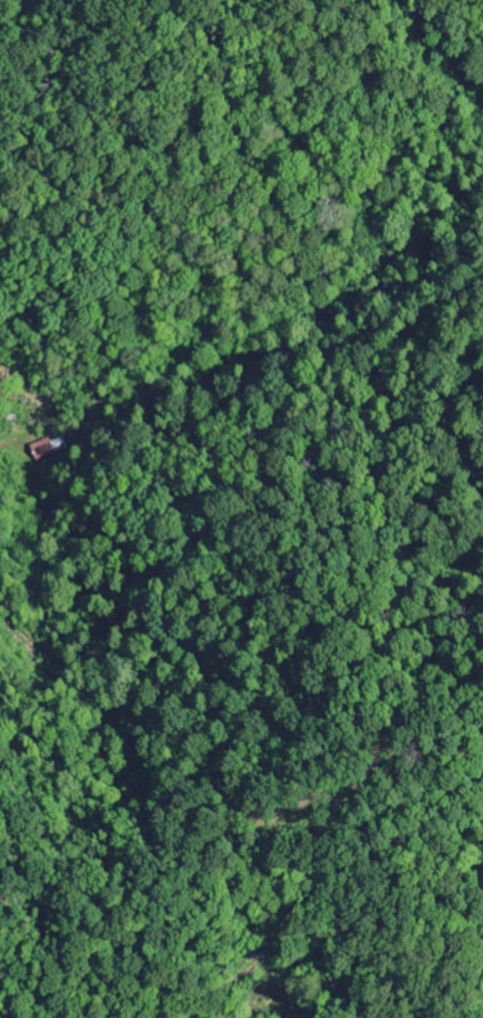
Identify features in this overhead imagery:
building: (47, 448)

